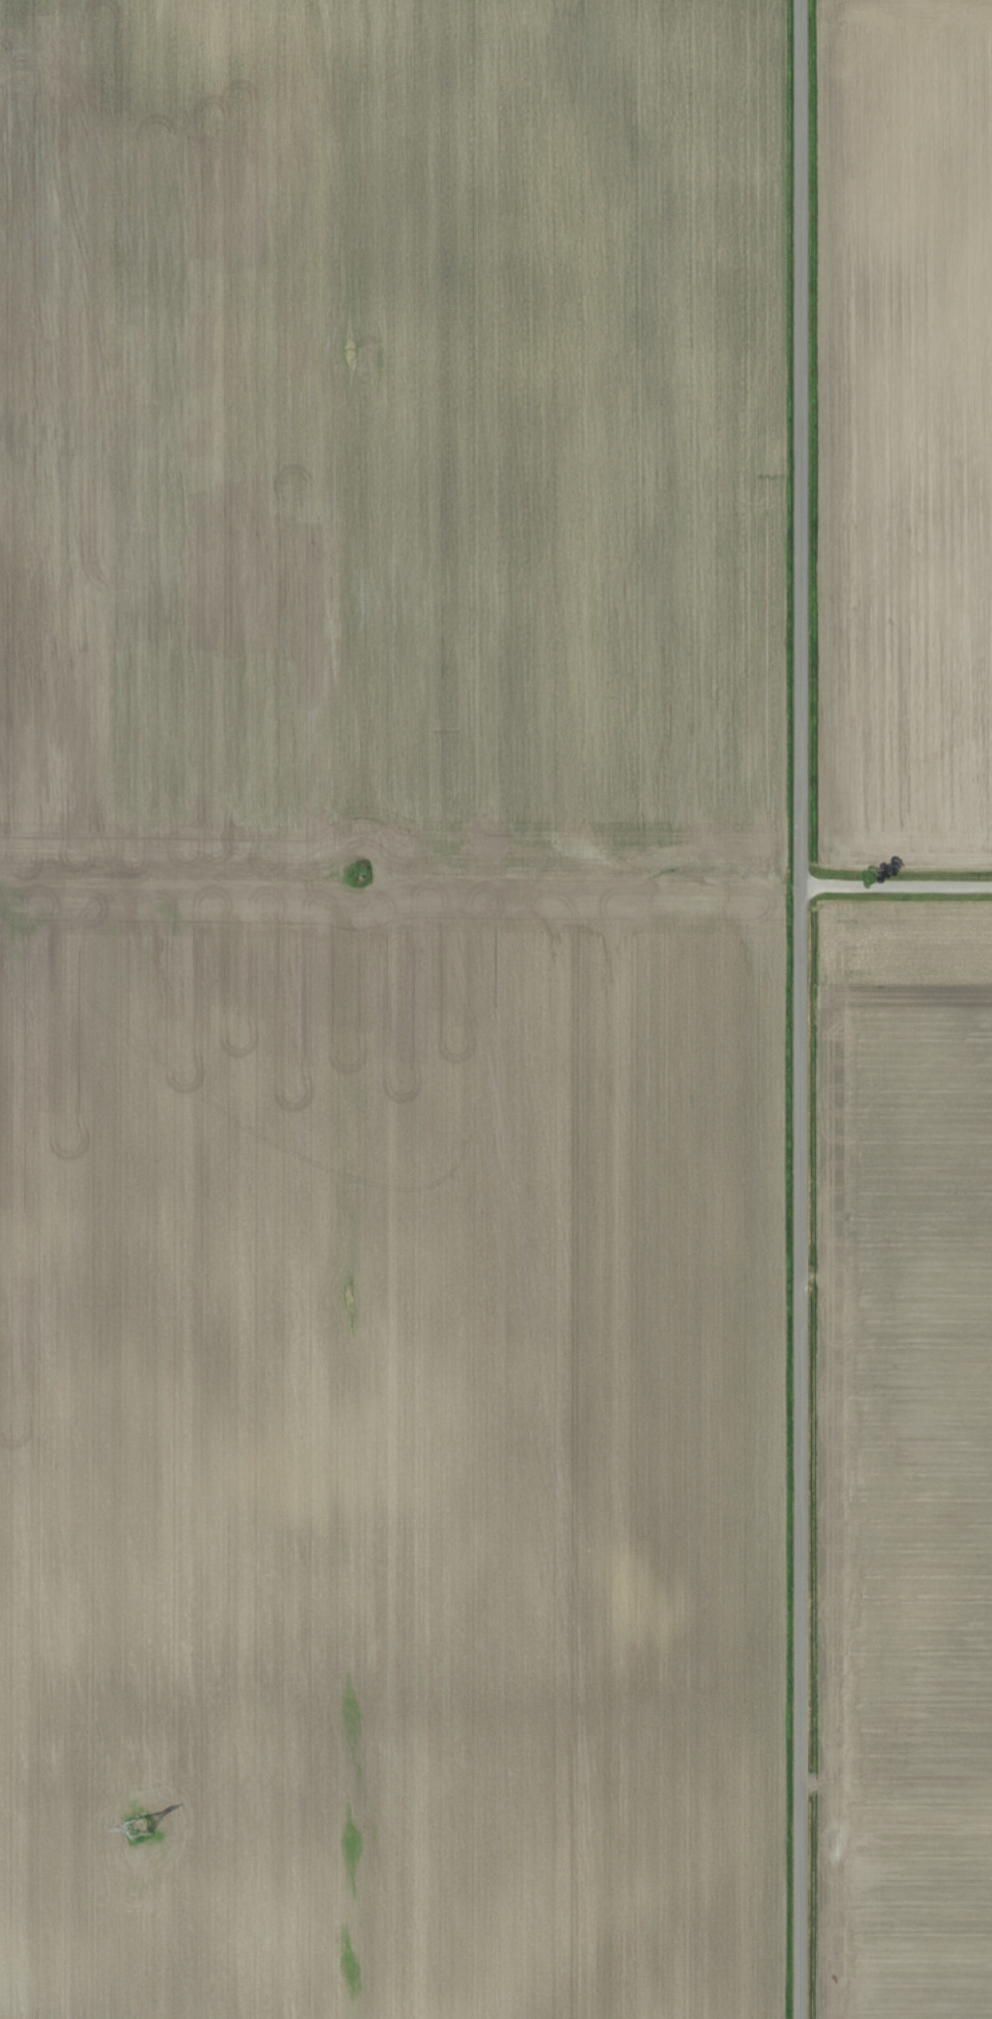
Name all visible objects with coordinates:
road: (896, 887)
road: (801, 1009)
power tower: (140, 1820)

